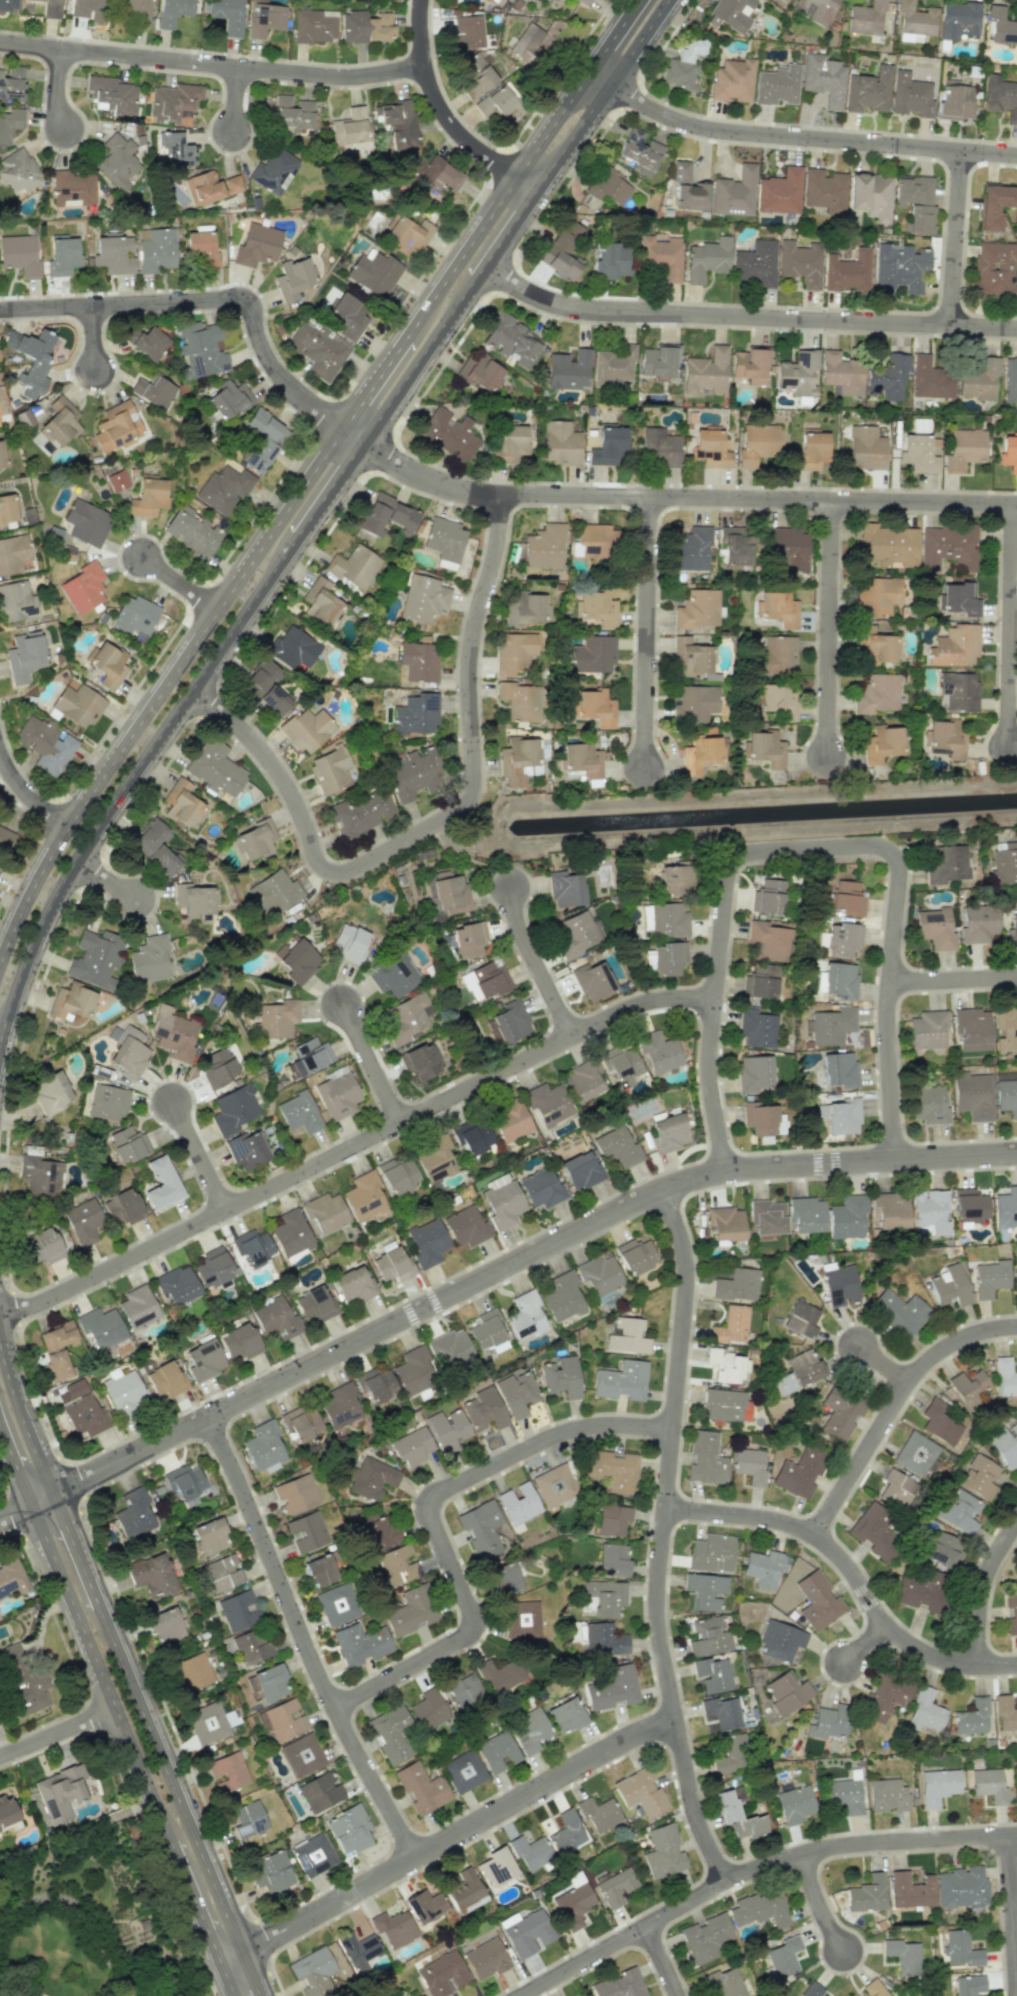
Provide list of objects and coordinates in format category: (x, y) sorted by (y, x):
building: (491, 1)
building: (587, 1)
building: (133, 6)
building: (51, 8)
building: (89, 9)
building: (814, 10)
building: (172, 11)
building: (226, 14)
building: (730, 14)
building: (264, 18)
building: (865, 18)
building: (915, 19)
building: (958, 20)
building: (314, 25)
building: (1001, 26)
building: (364, 27)
building: (467, 31)
road: (611, 37)
building: (527, 43)
road: (212, 64)
building: (683, 65)
building: (473, 75)
building: (823, 79)
building: (732, 80)
building: (11, 82)
building: (776, 85)
road: (60, 88)
building: (868, 90)
building: (112, 95)
building: (910, 95)
building: (1000, 97)
road: (239, 98)
road: (602, 98)
building: (954, 100)
building: (172, 102)
building: (498, 104)
building: (291, 114)
road: (446, 114)
building: (10, 123)
building: (398, 123)
building: (349, 127)
road: (795, 136)
building: (173, 149)
building: (638, 152)
building: (117, 161)
building: (18, 171)
building: (273, 171)
building: (438, 174)
building: (232, 184)
building: (610, 186)
building: (201, 188)
building: (687, 188)
building: (72, 189)
building: (824, 190)
building: (780, 192)
building: (734, 193)
building: (870, 195)
building: (916, 202)
building: (995, 205)
road: (494, 206)
building: (406, 234)
road: (959, 238)
road: (503, 239)
building: (257, 245)
building: (201, 249)
building: (157, 250)
building: (561, 250)
building: (113, 254)
building: (19, 255)
building: (62, 255)
building: (661, 256)
building: (707, 259)
building: (610, 261)
building: (800, 263)
building: (756, 264)
building: (899, 269)
building: (994, 270)
building: (847, 271)
building: (373, 272)
building: (292, 278)
road: (204, 298)
road: (745, 315)
building: (347, 316)
road: (95, 337)
building: (510, 340)
building: (146, 341)
building: (200, 348)
building: (318, 349)
building: (30, 359)
building: (658, 360)
road: (419, 364)
building: (749, 365)
building: (613, 366)
building: (568, 370)
building: (479, 371)
building: (705, 371)
building: (797, 373)
building: (841, 373)
building: (887, 377)
building: (930, 378)
building: (978, 379)
building: (1010, 379)
road: (373, 383)
building: (153, 392)
building: (229, 398)
building: (59, 422)
building: (116, 426)
building: (448, 434)
road: (353, 436)
building: (263, 440)
building: (560, 443)
building: (508, 444)
building: (756, 444)
building: (608, 445)
building: (660, 448)
building: (865, 448)
building: (710, 449)
building: (964, 449)
building: (811, 450)
building: (1009, 452)
building: (917, 454)
building: (1, 456)
building: (116, 480)
building: (223, 488)
road: (685, 497)
building: (147, 498)
building: (7, 508)
building: (387, 516)
building: (86, 522)
building: (192, 532)
building: (887, 545)
building: (544, 546)
building: (734, 547)
building: (691, 549)
building: (787, 549)
building: (13, 553)
building: (354, 566)
road: (277, 568)
road: (181, 582)
building: (83, 588)
building: (876, 596)
building: (423, 599)
building: (959, 599)
building: (16, 602)
building: (320, 602)
building: (524, 608)
building: (777, 608)
building: (595, 609)
building: (697, 609)
building: (134, 616)
road: (1013, 625)
road: (831, 628)
road: (647, 631)
building: (954, 646)
building: (293, 647)
building: (876, 648)
building: (514, 651)
building: (591, 654)
building: (776, 655)
building: (24, 656)
building: (690, 656)
building: (418, 661)
building: (106, 664)
road: (164, 687)
building: (266, 687)
building: (959, 691)
building: (876, 693)
building: (519, 700)
building: (774, 700)
building: (695, 703)
building: (78, 705)
building: (594, 707)
building: (416, 713)
building: (307, 729)
building: (944, 739)
building: (881, 743)
building: (45, 744)
building: (762, 748)
building: (699, 754)
building: (582, 759)
building: (517, 761)
building: (215, 768)
building: (330, 770)
building: (414, 774)
road: (26, 795)
building: (181, 803)
building: (361, 814)
road: (438, 820)
building: (5, 838)
building: (254, 840)
building: (155, 846)
road: (812, 849)
road: (81, 854)
road: (472, 856)
building: (1004, 861)
building: (947, 865)
road: (105, 880)
building: (675, 880)
building: (565, 889)
building: (274, 891)
building: (448, 892)
building: (768, 897)
building: (848, 898)
building: (193, 902)
building: (668, 920)
building: (979, 924)
building: (1013, 927)
building: (935, 928)
building: (575, 933)
building: (469, 939)
building: (843, 939)
building: (768, 941)
building: (350, 943)
building: (96, 958)
building: (666, 958)
building: (149, 959)
building: (296, 959)
road: (538, 963)
building: (394, 975)
building: (485, 980)
building: (593, 980)
building: (839, 980)
building: (761, 982)
road: (954, 982)
building: (70, 1002)
building: (276, 1018)
building: (407, 1018)
building: (510, 1021)
building: (832, 1026)
building: (757, 1029)
building: (927, 1029)
building: (972, 1029)
building: (1006, 1030)
building: (173, 1034)
building: (129, 1051)
building: (658, 1051)
building: (310, 1055)
building: (420, 1062)
road: (373, 1063)
building: (621, 1065)
building: (216, 1068)
building: (840, 1070)
building: (753, 1073)
building: (582, 1082)
building: (50, 1093)
building: (337, 1095)
building: (974, 1095)
building: (1007, 1097)
building: (108, 1102)
building: (547, 1103)
building: (929, 1105)
building: (233, 1110)
building: (33, 1112)
building: (299, 1113)
building: (839, 1116)
building: (763, 1119)
building: (510, 1121)
building: (668, 1133)
building: (472, 1136)
building: (127, 1144)
road: (356, 1146)
building: (616, 1147)
building: (246, 1150)
road: (201, 1157)
building: (435, 1160)
building: (581, 1170)
building: (40, 1175)
building: (397, 1175)
building: (161, 1184)
building: (542, 1188)
building: (364, 1196)
building: (502, 1202)
building: (970, 1205)
building: (122, 1207)
building: (1006, 1209)
building: (890, 1210)
building: (325, 1212)
building: (930, 1212)
building: (806, 1215)
building: (767, 1217)
building: (847, 1217)
building: (83, 1221)
building: (725, 1223)
building: (466, 1227)
building: (291, 1234)
building: (427, 1243)
building: (43, 1247)
building: (252, 1247)
building: (636, 1256)
road: (517, 1262)
building: (392, 1264)
building: (213, 1268)
building: (1016, 1270)
building: (599, 1275)
building: (990, 1278)
building: (177, 1284)
building: (354, 1285)
building: (737, 1285)
building: (840, 1286)
building: (950, 1286)
building: (563, 1297)
building: (315, 1304)
building: (138, 1307)
building: (900, 1311)
building: (525, 1316)
building: (276, 1319)
building: (801, 1319)
building: (731, 1325)
building: (101, 1328)
building: (486, 1330)
building: (627, 1336)
building: (240, 1341)
building: (57, 1348)
building: (449, 1349)
building: (203, 1359)
road: (886, 1365)
building: (728, 1367)
building: (414, 1371)
building: (796, 1374)
building: (560, 1377)
building: (1005, 1377)
building: (165, 1380)
building: (621, 1380)
building: (375, 1384)
building: (968, 1387)
building: (70, 1391)
building: (124, 1392)
building: (516, 1393)
building: (339, 1405)
building: (723, 1405)
road: (895, 1407)
building: (485, 1409)
building: (84, 1415)
building: (839, 1415)
road: (21, 1420)
building: (302, 1422)
building: (939, 1423)
building: (447, 1429)
building: (265, 1445)
building: (1005, 1445)
building: (412, 1446)
building: (915, 1454)
building: (706, 1458)
building: (749, 1466)
road: (15, 1467)
building: (613, 1470)
building: (800, 1471)
building: (979, 1477)
building: (372, 1478)
building: (184, 1484)
building: (554, 1485)
building: (896, 1488)
building: (296, 1493)
road: (41, 1498)
building: (518, 1504)
road: (14, 1511)
building: (958, 1511)
building: (133, 1514)
road: (433, 1518)
building: (612, 1519)
building: (481, 1528)
building: (875, 1531)
building: (306, 1532)
building: (376, 1532)
building: (211, 1536)
road: (664, 1538)
road: (75, 1549)
building: (942, 1549)
building: (711, 1553)
building: (612, 1559)
building: (397, 1565)
building: (764, 1568)
building: (320, 1571)
road: (853, 1572)
building: (222, 1573)
building: (152, 1575)
building: (12, 1578)
building: (504, 1580)
building: (705, 1590)
building: (921, 1590)
road: (984, 1594)
building: (605, 1597)
building: (817, 1600)
building: (336, 1604)
building: (1011, 1608)
building: (237, 1611)
building: (411, 1611)
building: (522, 1619)
building: (164, 1626)
building: (709, 1637)
road: (304, 1640)
building: (604, 1640)
building: (781, 1640)
building: (360, 1644)
building: (252, 1646)
road: (868, 1646)
building: (13, 1658)
building: (192, 1672)
road: (100, 1673)
building: (499, 1674)
building: (712, 1674)
building: (271, 1682)
building: (612, 1687)
building: (464, 1690)
building: (29, 1693)
building: (786, 1693)
building: (885, 1697)
building: (428, 1710)
building: (925, 1710)
building: (722, 1712)
building: (1005, 1714)
building: (566, 1716)
building: (972, 1718)
building: (285, 1719)
building: (829, 1722)
building: (209, 1723)
building: (529, 1730)
road: (57, 1731)
building: (391, 1734)
building: (496, 1752)
building: (731, 1754)
building: (302, 1755)
building: (463, 1771)
building: (228, 1772)
road: (168, 1778)
building: (989, 1785)
building: (938, 1786)
building: (421, 1788)
building: (320, 1791)
building: (640, 1792)
building: (59, 1793)
building: (888, 1795)
building: (843, 1796)
building: (795, 1804)
building: (6, 1812)
building: (598, 1814)
building: (737, 1814)
building: (248, 1819)
building: (350, 1829)
building: (566, 1832)
road: (458, 1834)
road: (870, 1842)
building: (529, 1851)
building: (663, 1852)
building: (313, 1855)
building: (496, 1867)
building: (271, 1872)
building: (616, 1887)
building: (962, 1887)
building: (463, 1889)
building: (910, 1890)
building: (867, 1893)
road: (195, 1903)
road: (819, 1903)
building: (573, 1904)
building: (424, 1906)
building: (760, 1909)
road: (1011, 1915)
building: (393, 1928)
building: (526, 1932)
road: (623, 1937)
building: (705, 1937)
building: (960, 1949)
building: (359, 1951)
road: (103, 1952)
building: (903, 1956)
road: (230, 1957)
building: (486, 1959)
building: (784, 1959)
road: (661, 1960)
building: (312, 1972)
road: (249, 1973)
building: (441, 1974)
road: (226, 1979)
building: (724, 1982)
building: (619, 1985)
building: (969, 1985)
building: (873, 1988)
building: (813, 1990)

